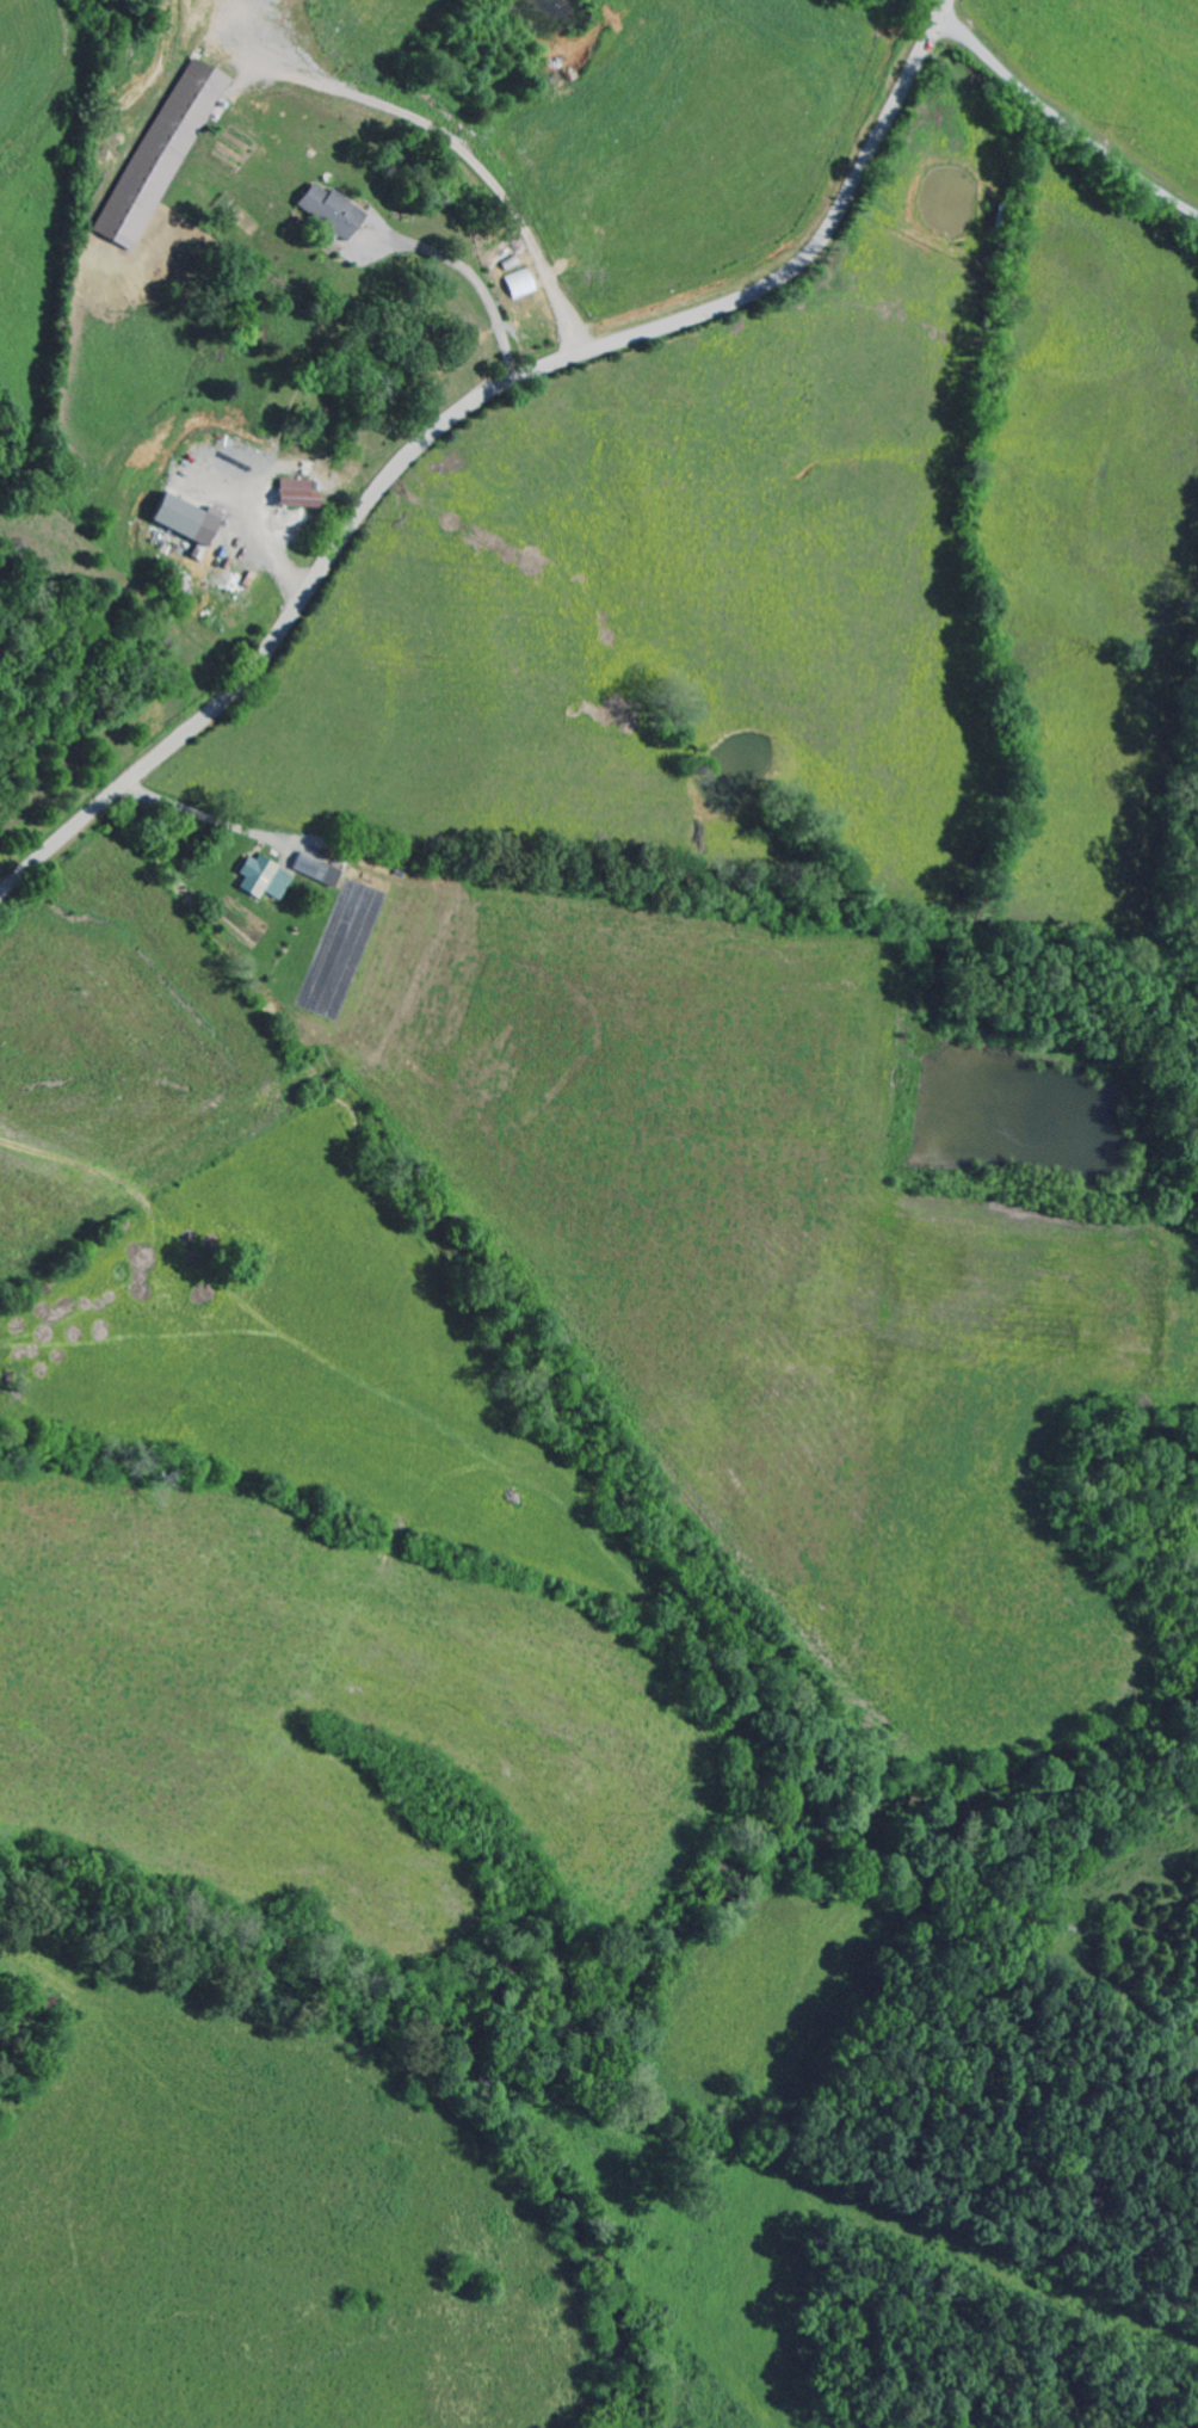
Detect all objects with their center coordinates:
building: (166, 155)
building: (335, 212)
building: (523, 284)
road: (461, 409)
building: (303, 495)
building: (193, 522)
building: (321, 870)
building: (267, 879)

